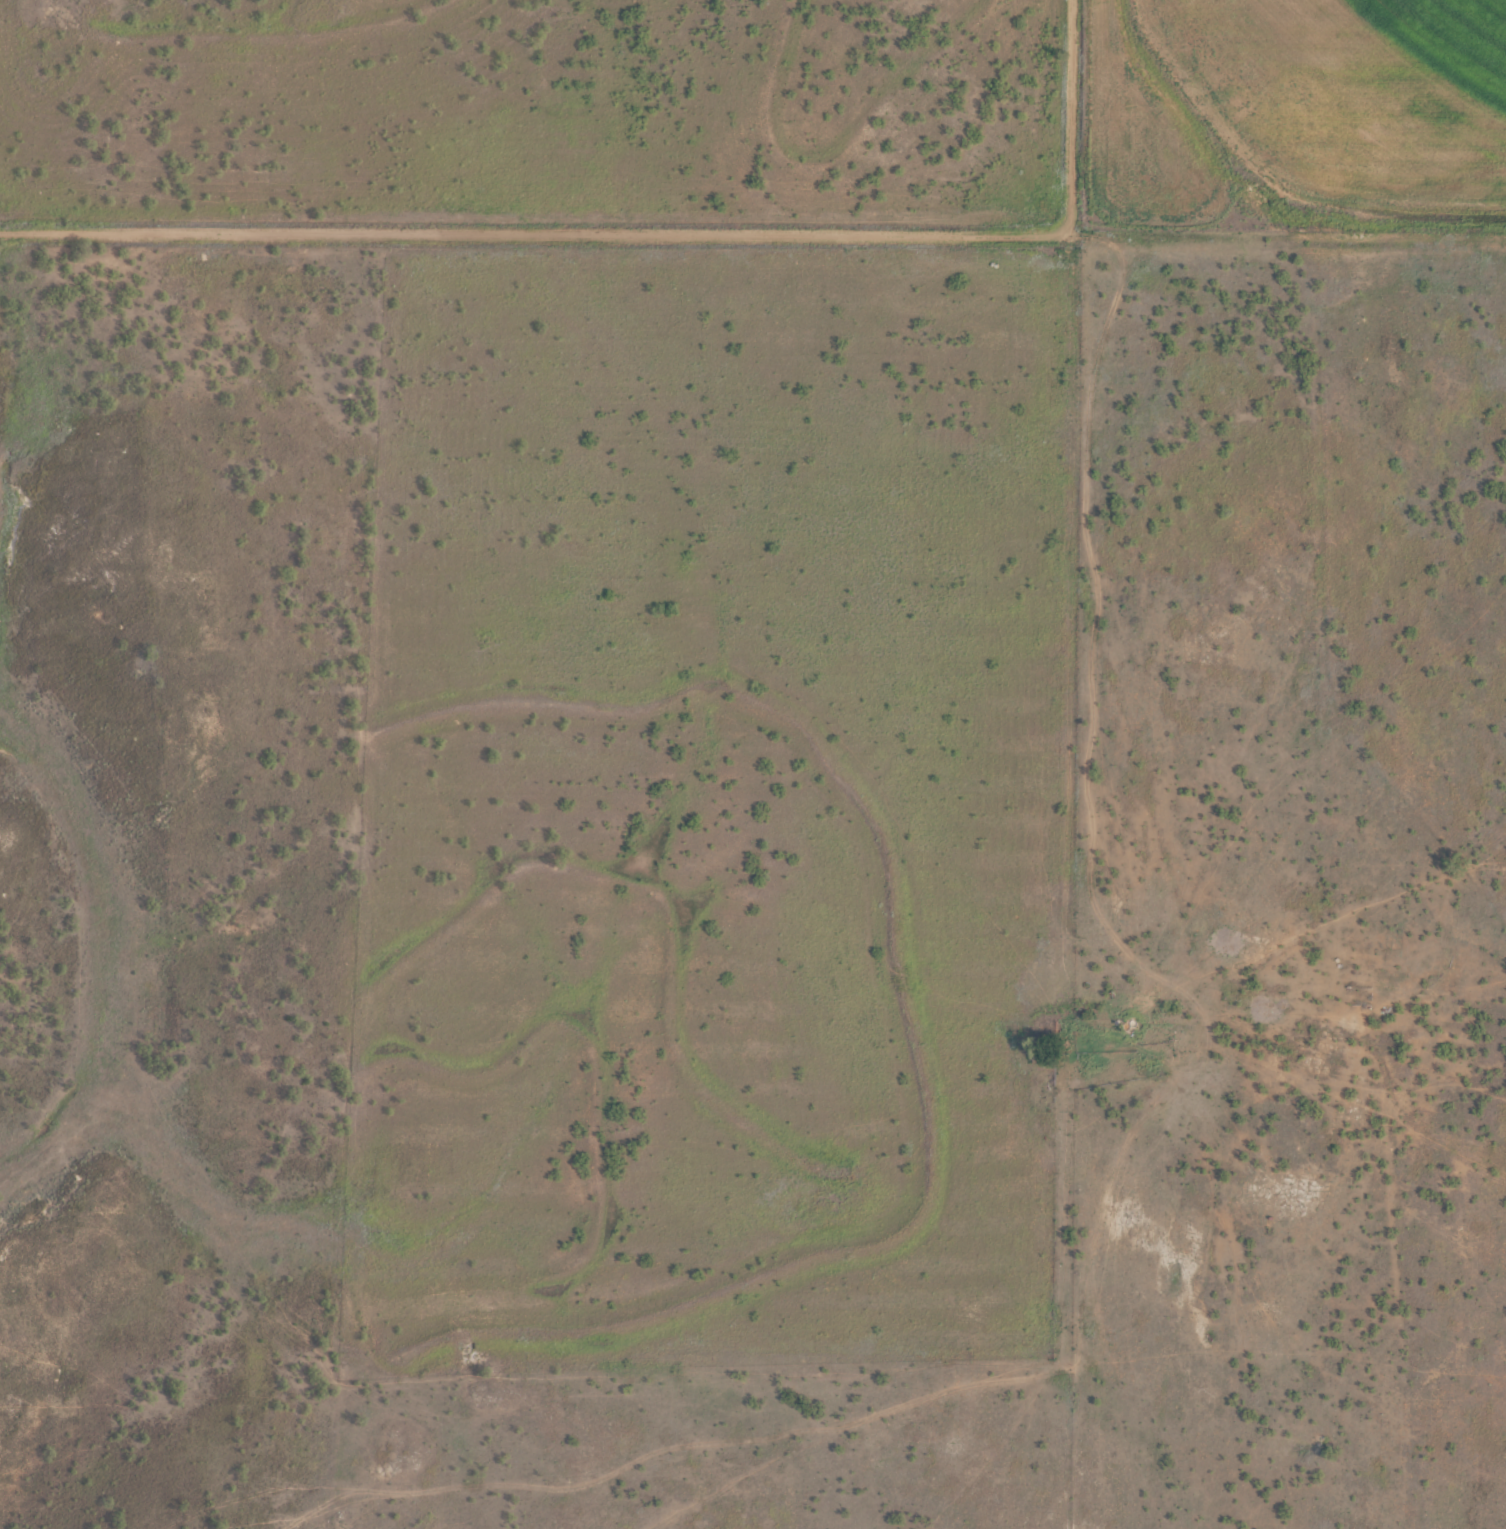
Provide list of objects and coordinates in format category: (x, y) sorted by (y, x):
road: (1076, 117)
road: (537, 234)
road: (1079, 580)

